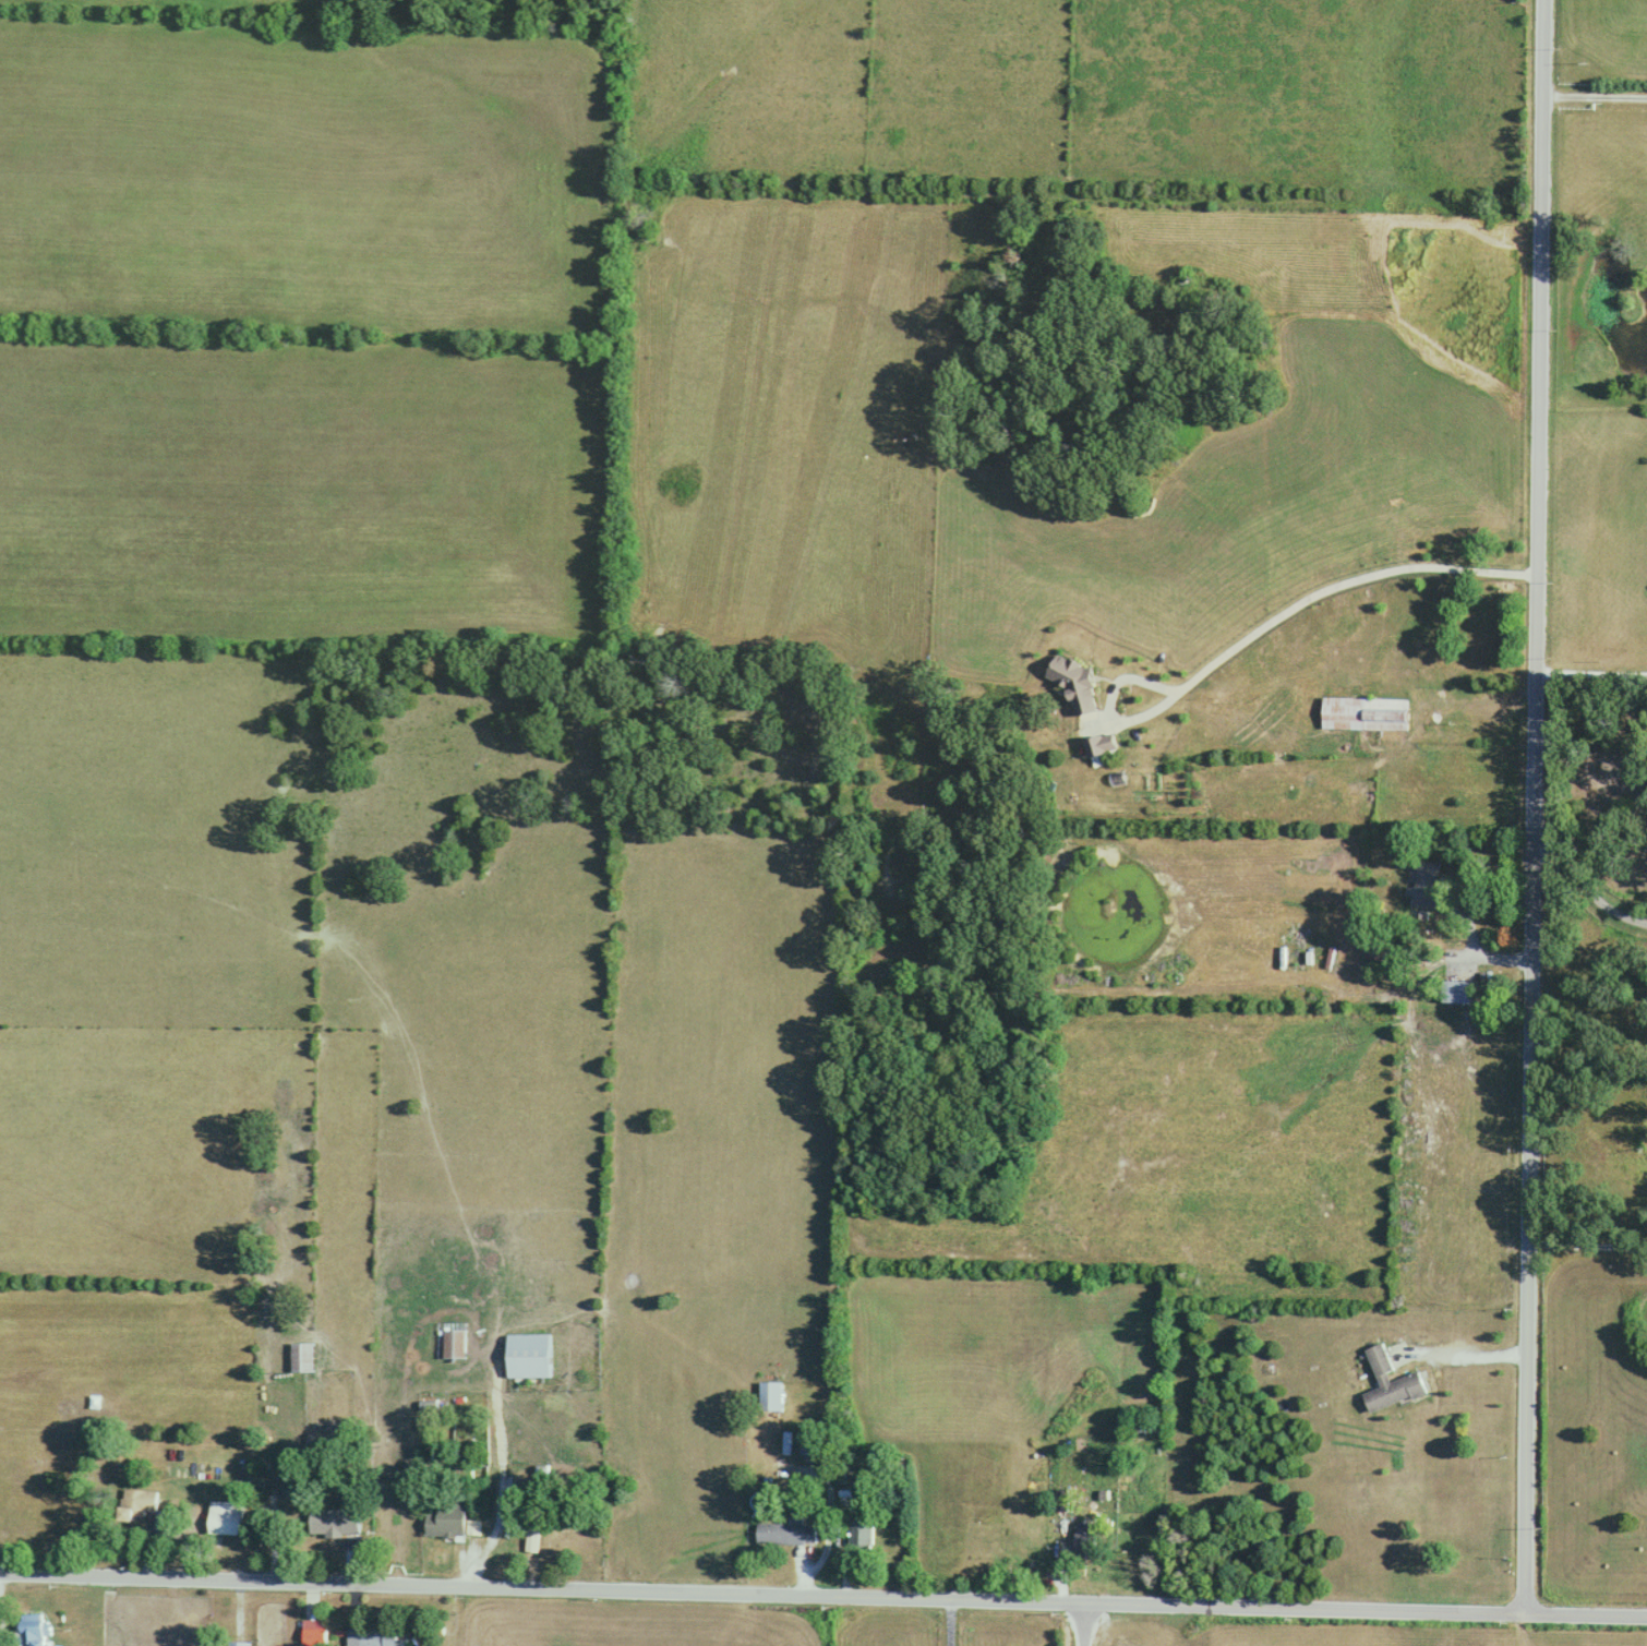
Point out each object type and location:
road: (1596, 95)
road: (1262, 625)
road: (1591, 672)
building: (1365, 713)
road: (1537, 806)
building: (1424, 885)
road: (1589, 888)
building: (1458, 992)
road: (1589, 1241)
building: (454, 1345)
road: (1471, 1356)
building: (528, 1357)
building: (301, 1358)
building: (1388, 1383)
building: (770, 1397)
building: (809, 1445)
building: (224, 1518)
building: (333, 1523)
building: (448, 1523)
building: (858, 1530)
building: (785, 1535)
building: (1083, 1540)
road: (822, 1595)
road: (950, 1622)
building: (29, 1631)
building: (313, 1636)
building: (376, 1638)
building: (237, 1644)

